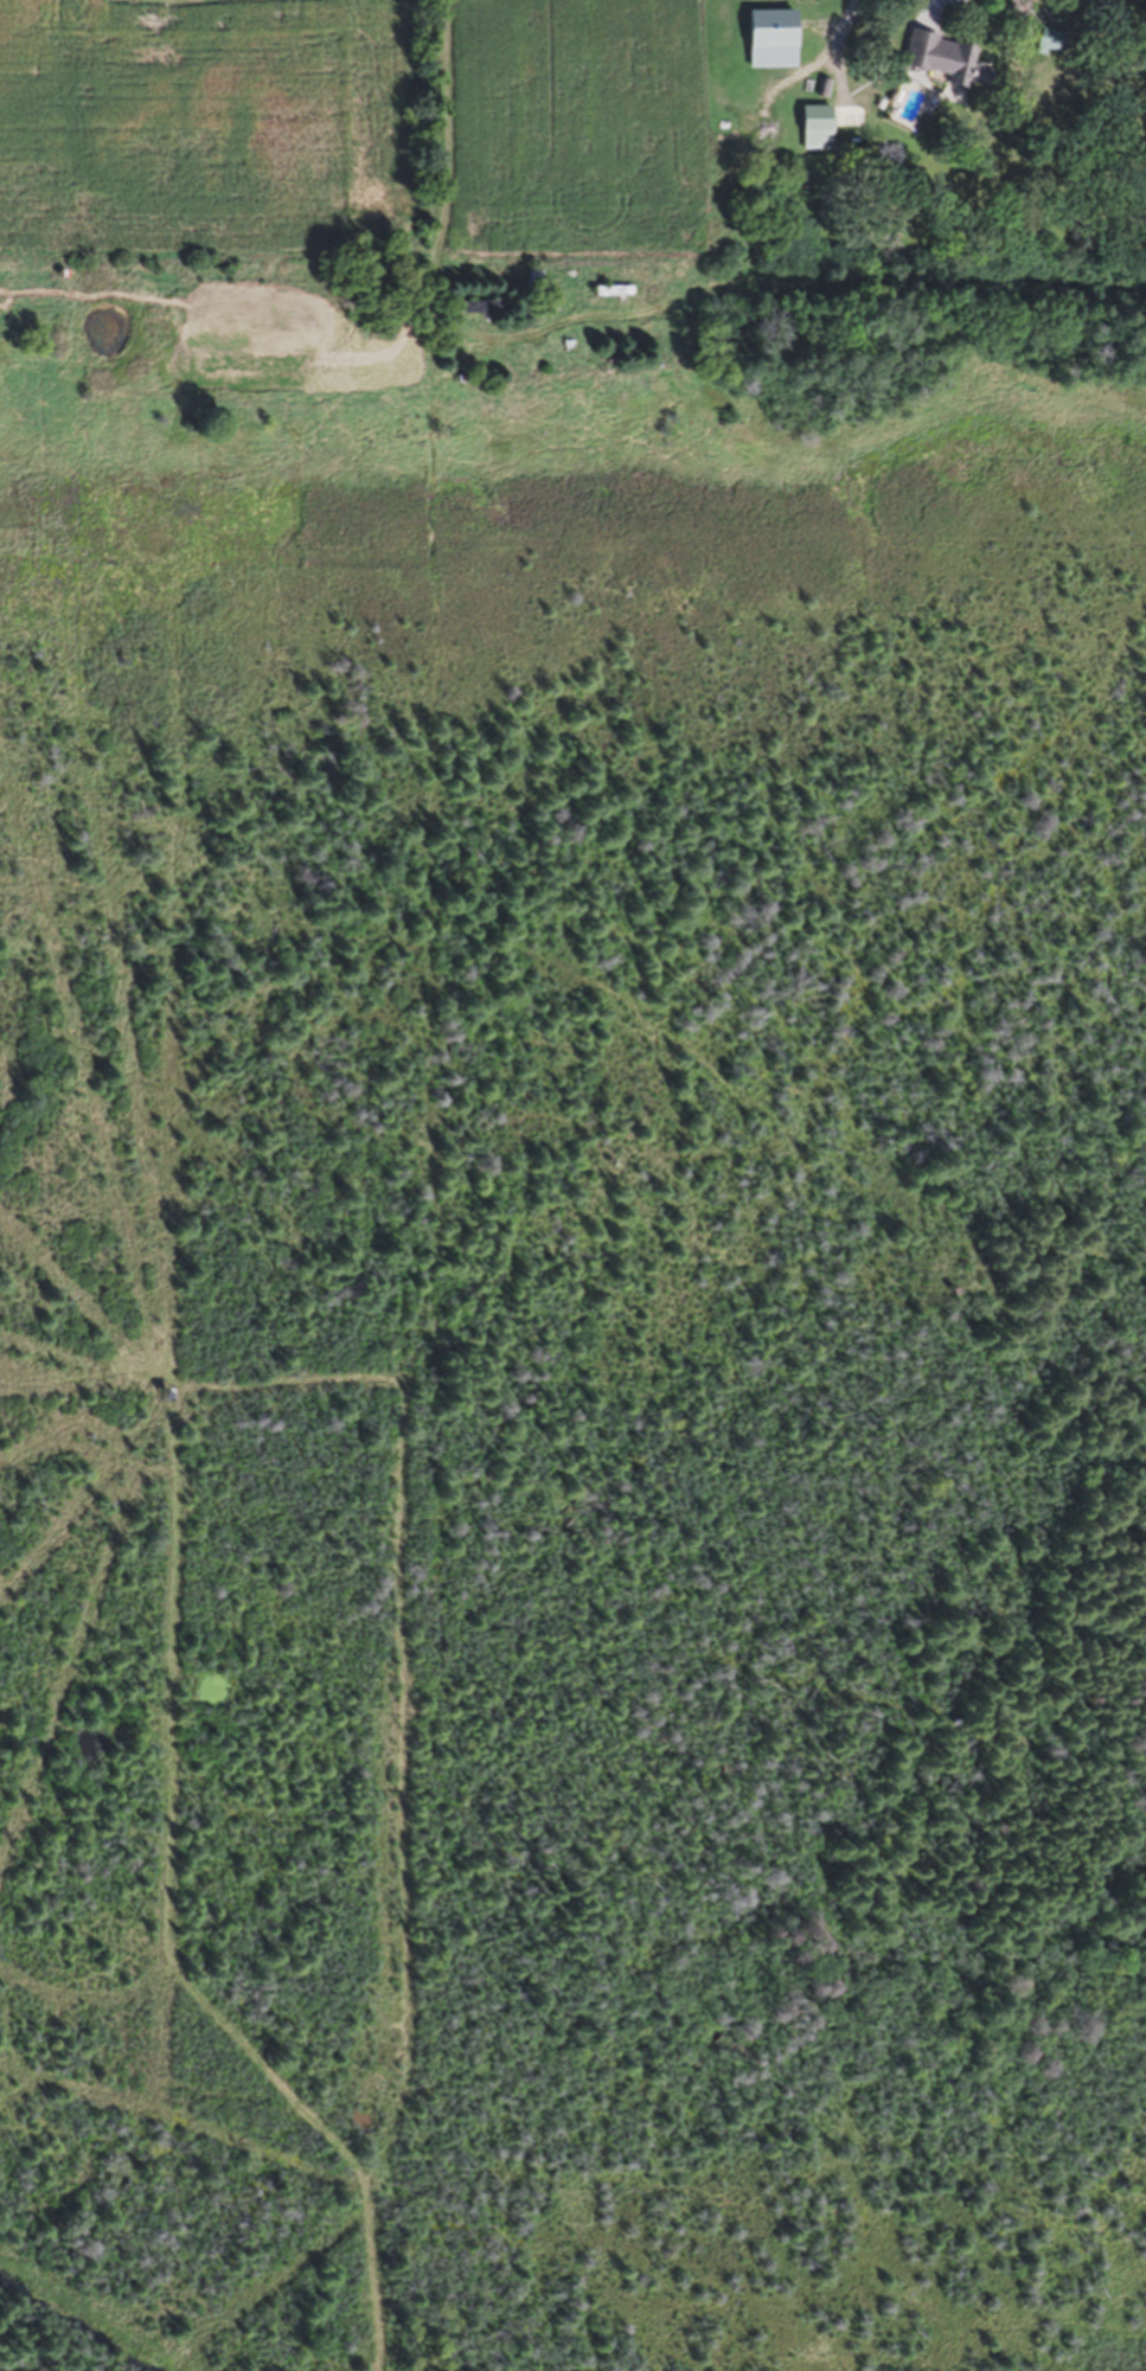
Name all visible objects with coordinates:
building: (768, 49)
building: (953, 73)
building: (812, 137)
building: (609, 301)

